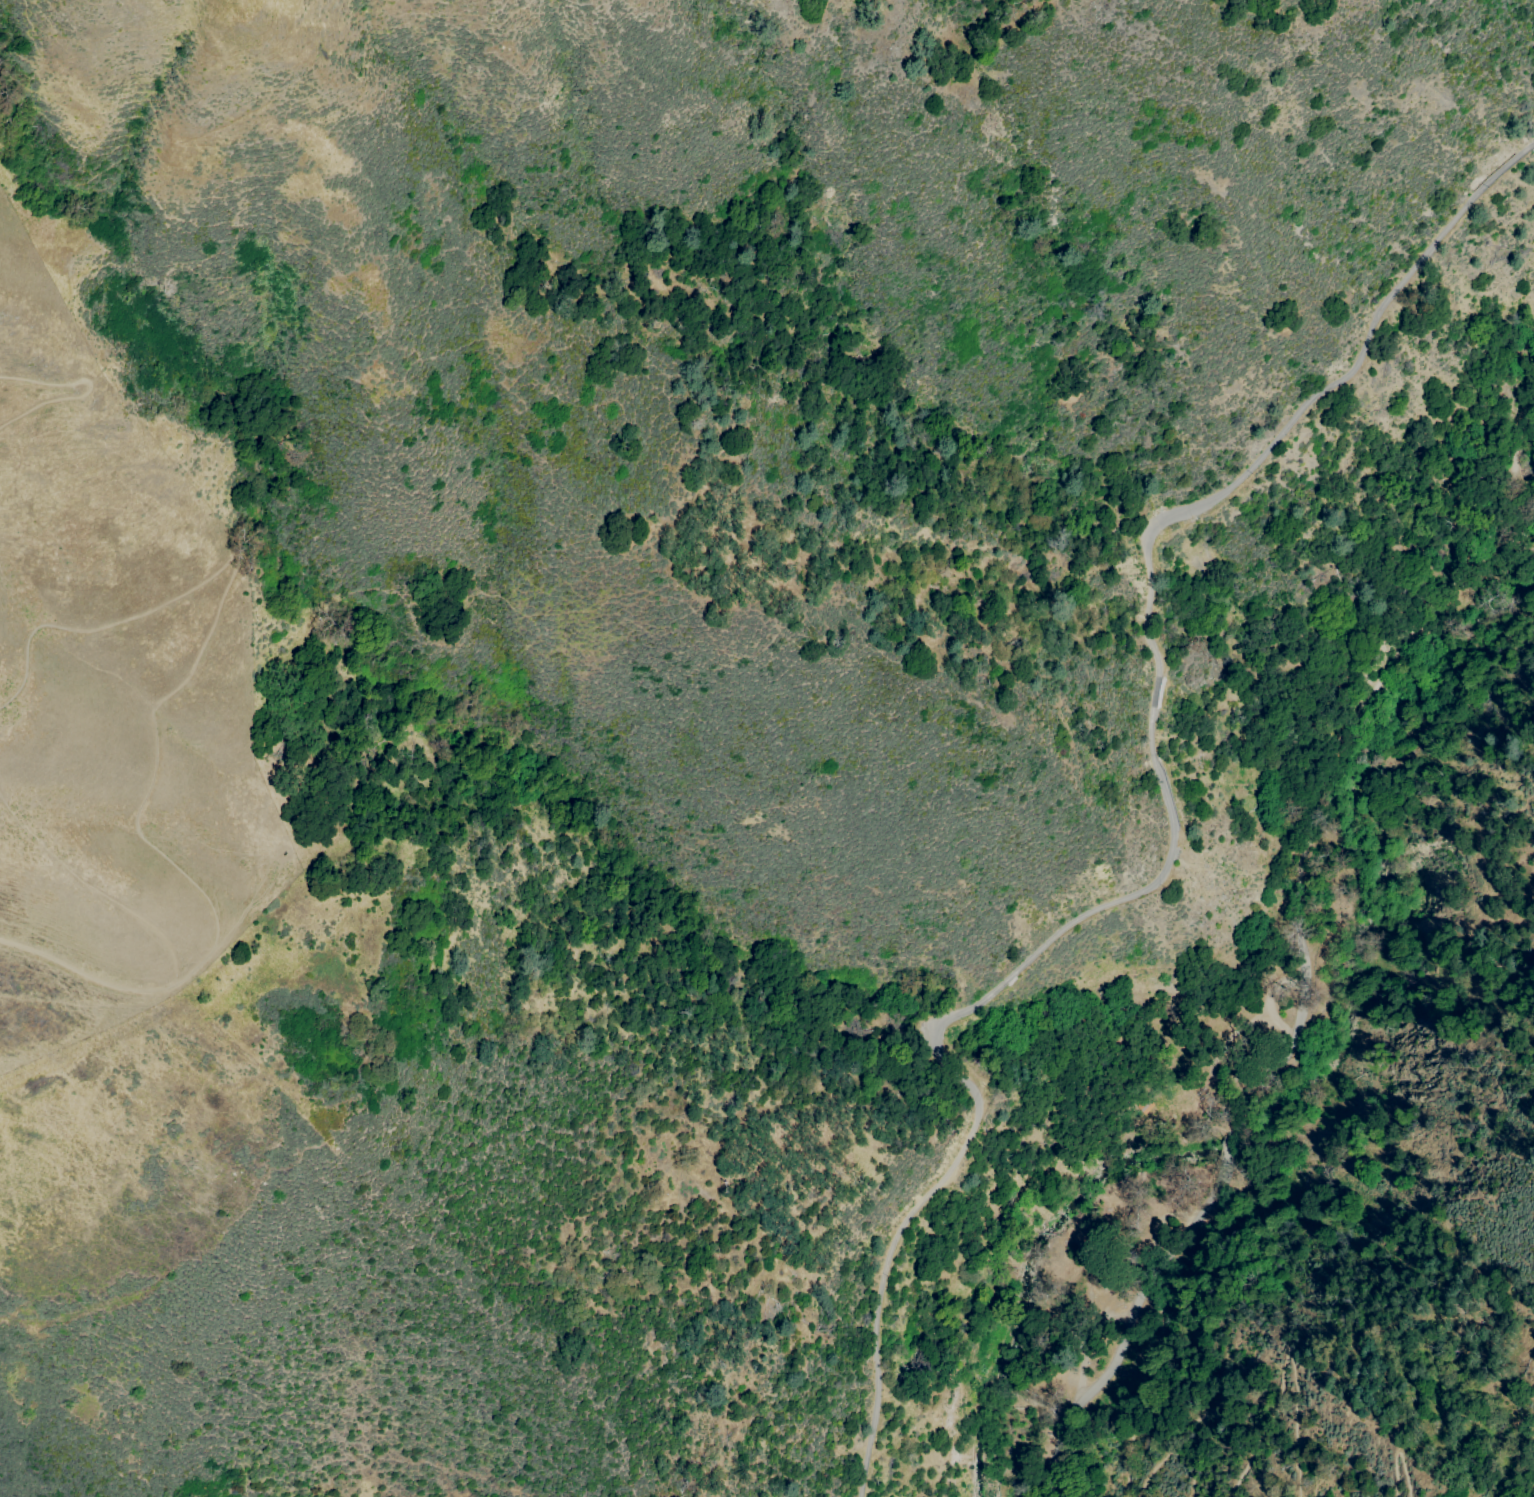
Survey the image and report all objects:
road: (83, 388)
road: (1513, 447)
road: (213, 613)
road: (1363, 708)
road: (1169, 824)
park: (887, 854)
road: (118, 984)
road: (1289, 1045)
road: (1220, 1147)
road: (1199, 1213)
road: (1289, 1347)
road: (1098, 1378)
road: (1152, 1380)
road: (990, 1391)
road: (1030, 1404)
road: (1189, 1432)
road: (972, 1443)
road: (1398, 1453)

